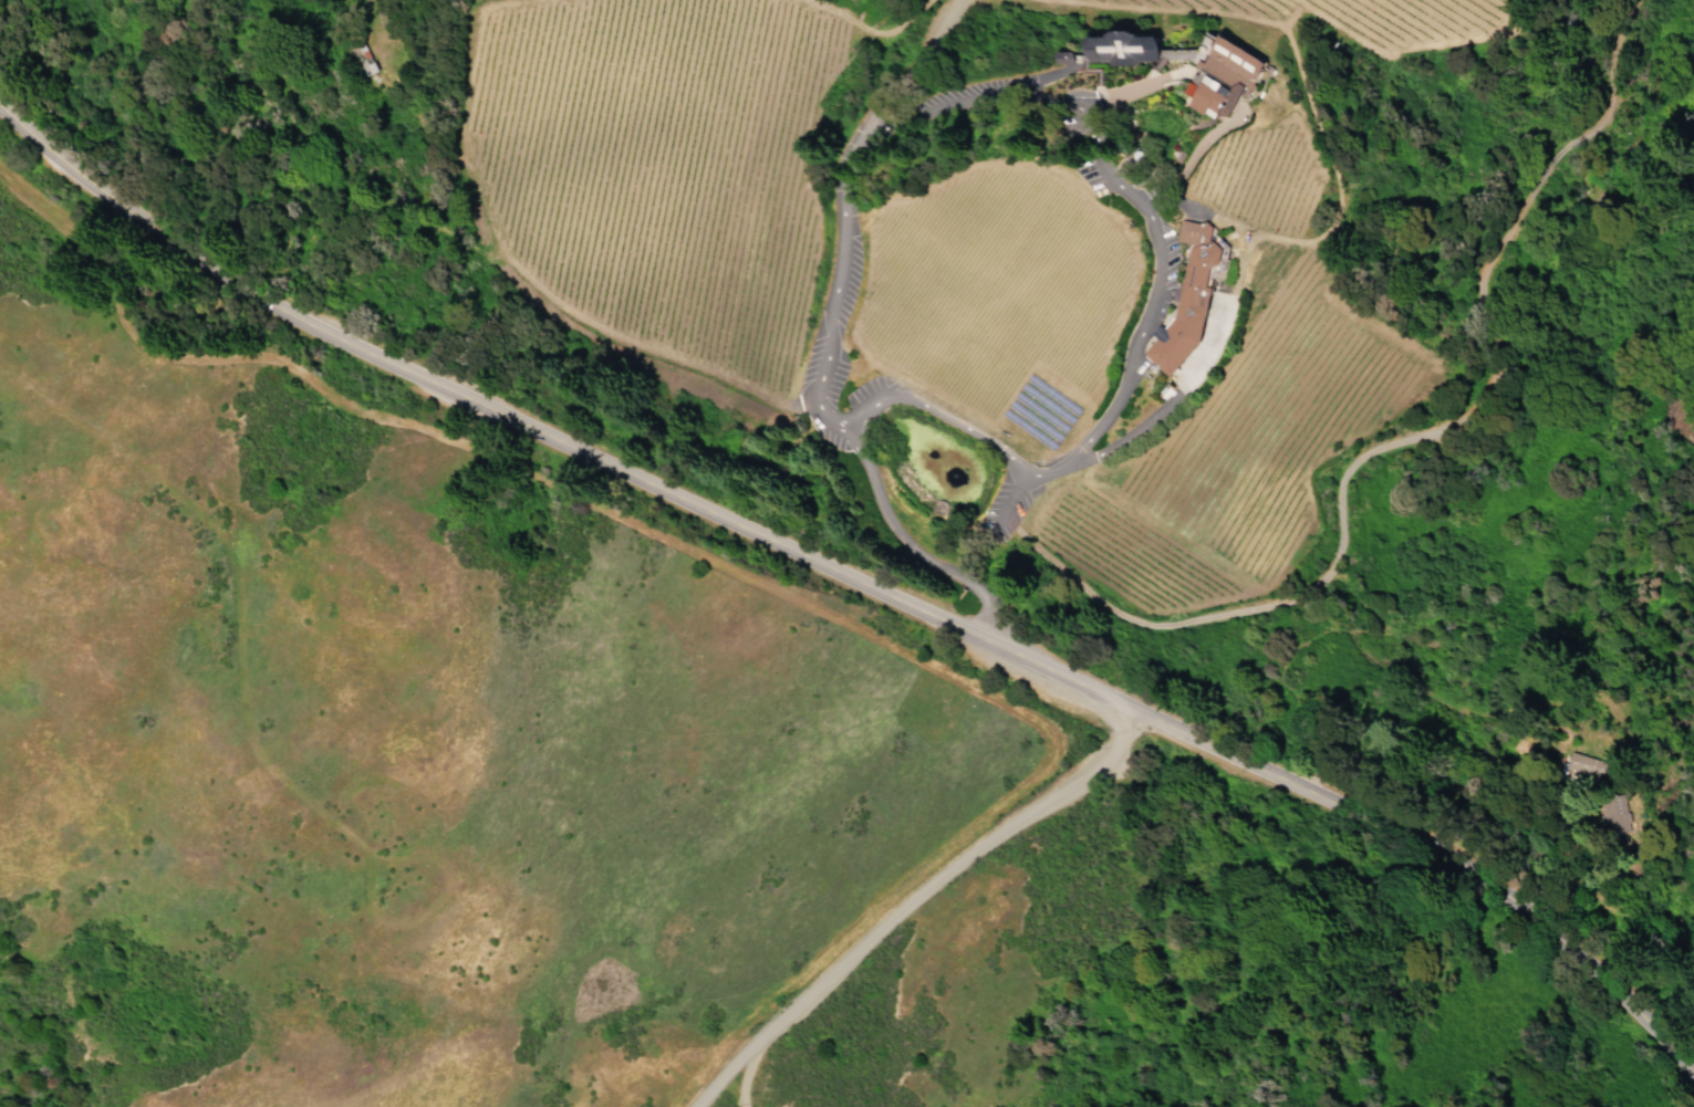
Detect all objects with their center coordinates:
building: (1120, 51)
road: (916, 59)
road: (1189, 59)
road: (1146, 80)
building: (1220, 82)
road: (1141, 86)
road: (1103, 154)
building: (1184, 302)
road: (1375, 450)
road: (911, 543)
road: (855, 578)
building: (1588, 766)
building: (1619, 813)
road: (945, 873)
road: (721, 1074)
road: (741, 1074)

